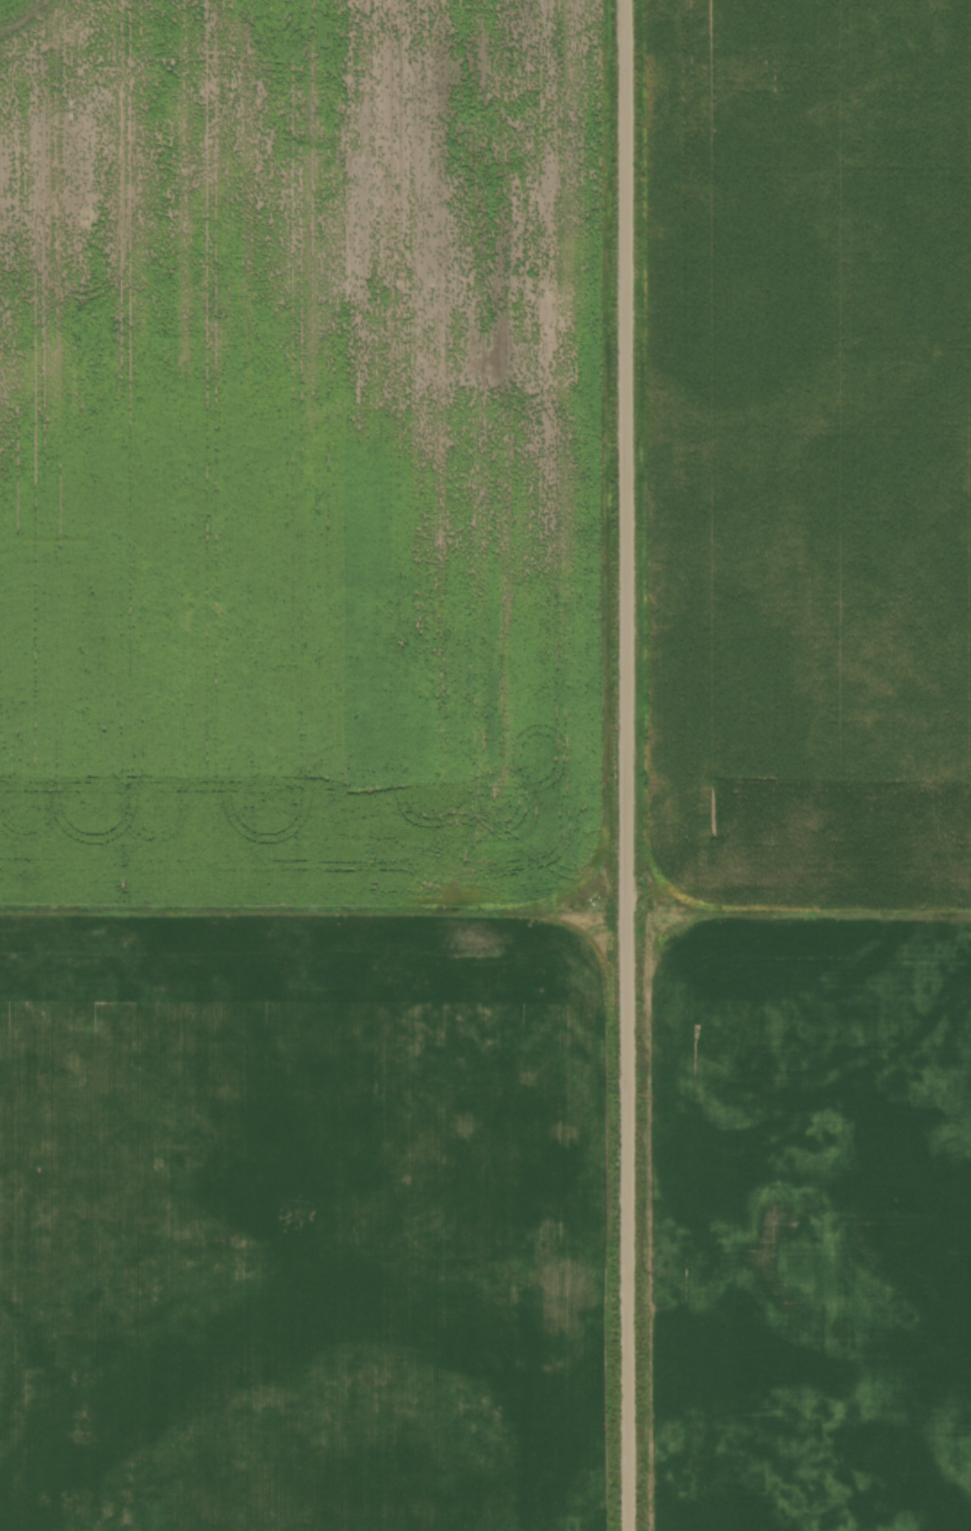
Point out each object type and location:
road: (625, 765)

